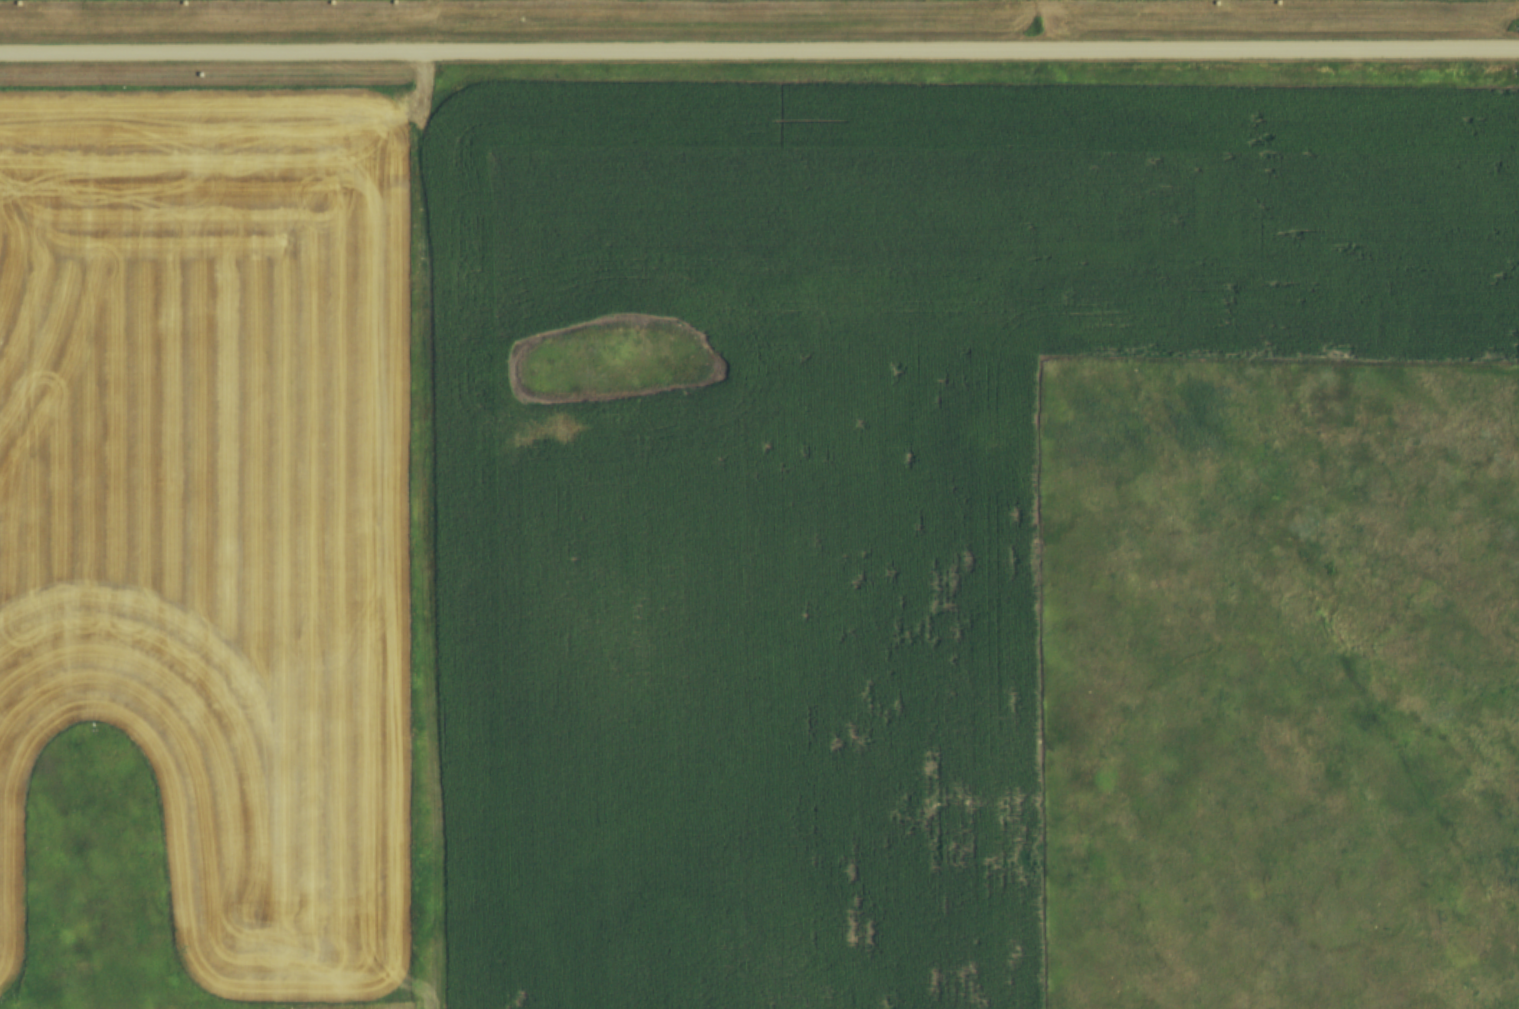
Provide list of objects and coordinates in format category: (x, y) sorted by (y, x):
road: (759, 46)
crop: (842, 481)

